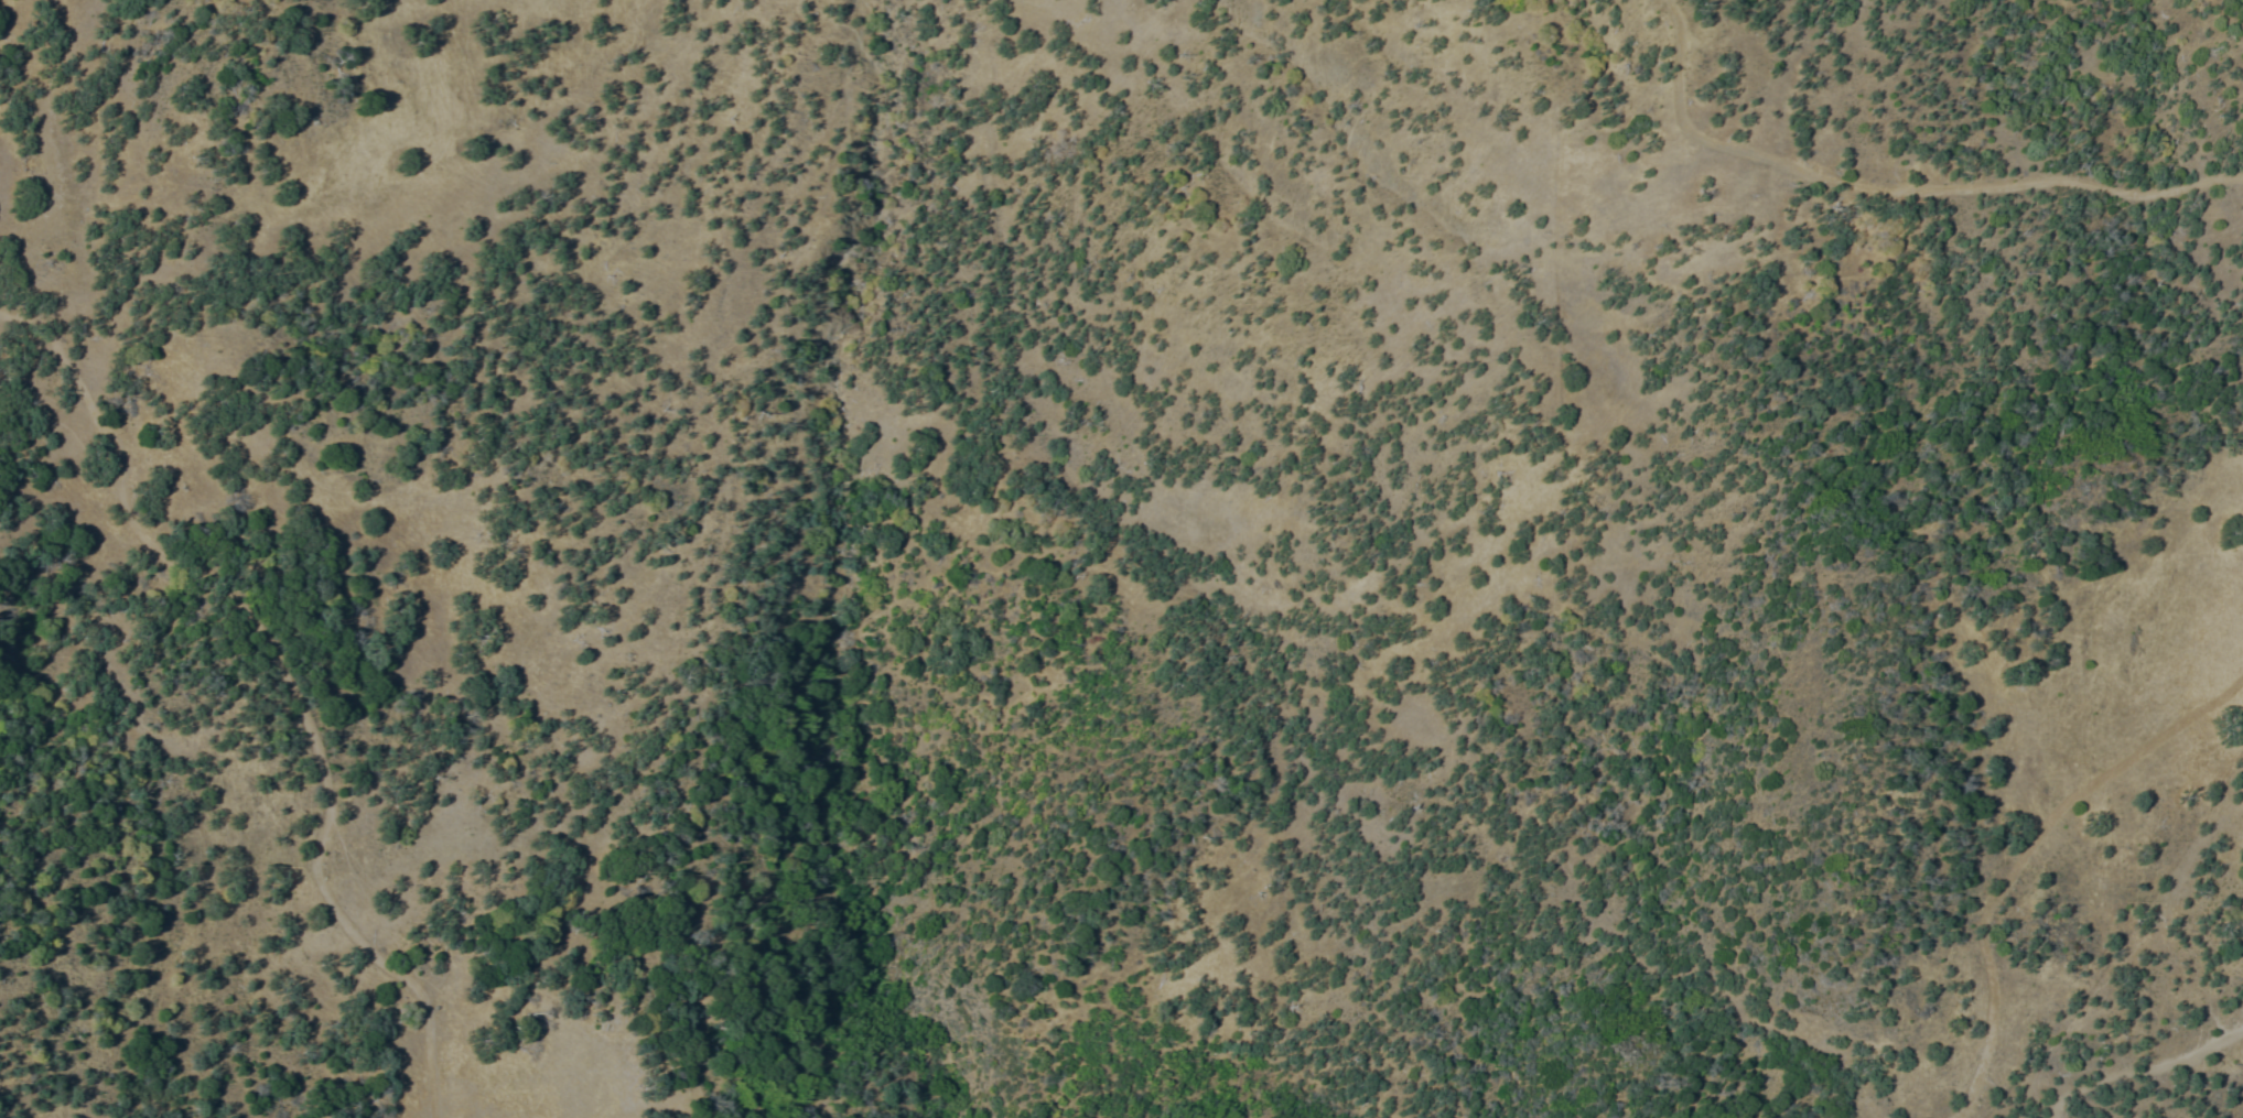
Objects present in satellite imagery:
road: (1894, 189)
road: (2023, 859)
road: (2142, 1071)

